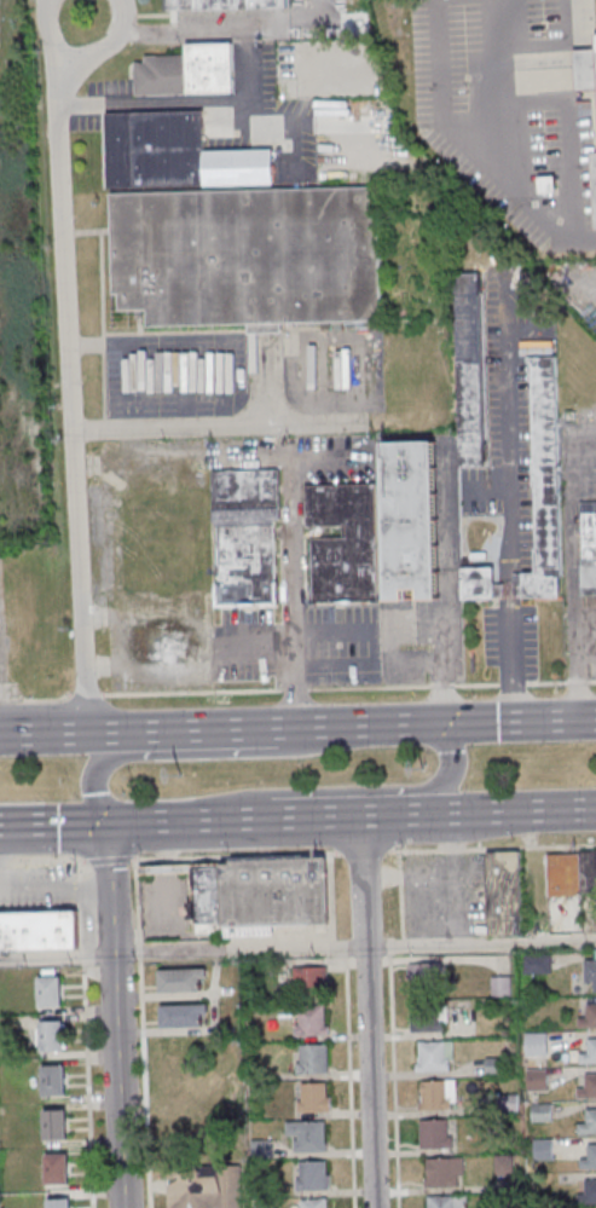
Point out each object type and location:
building: (225, 4)
road: (47, 30)
road: (180, 31)
road: (108, 45)
building: (585, 69)
building: (189, 71)
road: (152, 105)
road: (442, 139)
building: (175, 154)
building: (546, 184)
building: (594, 190)
road: (572, 238)
road: (65, 243)
building: (248, 255)
road: (100, 343)
building: (471, 369)
road: (359, 376)
road: (308, 378)
road: (225, 380)
road: (185, 381)
road: (265, 381)
road: (132, 385)
road: (216, 426)
road: (504, 428)
building: (546, 481)
building: (411, 519)
road: (573, 533)
building: (247, 537)
building: (342, 542)
road: (293, 545)
building: (588, 547)
road: (79, 579)
road: (449, 583)
building: (481, 583)
road: (508, 588)
road: (375, 647)
road: (574, 654)
road: (585, 654)
road: (509, 658)
road: (591, 680)
road: (575, 681)
road: (546, 682)
road: (476, 683)
road: (513, 683)
road: (441, 684)
road: (369, 687)
road: (295, 688)
road: (192, 692)
road: (88, 694)
road: (293, 695)
road: (48, 698)
road: (435, 724)
traffic signals: (438, 724)
road: (241, 729)
road: (103, 732)
road: (196, 753)
power tower: (422, 764)
power tower: (178, 773)
road: (335, 791)
road: (297, 816)
traffic signals: (106, 823)
road: (364, 850)
road: (109, 859)
road: (41, 860)
building: (571, 872)
road: (360, 880)
road: (110, 888)
building: (504, 892)
building: (253, 894)
road: (137, 901)
building: (39, 930)
road: (297, 947)
road: (139, 952)
building: (536, 964)
building: (591, 975)
building: (424, 976)
building: (181, 979)
building: (311, 979)
building: (50, 989)
building: (184, 1015)
building: (589, 1016)
building: (428, 1017)
building: (311, 1019)
building: (53, 1035)
building: (537, 1042)
building: (589, 1052)
building: (435, 1056)
building: (312, 1058)
building: (494, 1065)
road: (369, 1076)
building: (537, 1079)
building: (53, 1080)
road: (118, 1080)
road: (143, 1083)
building: (588, 1087)
building: (436, 1094)
building: (314, 1097)
building: (542, 1112)
building: (589, 1122)
building: (54, 1123)
building: (435, 1133)
building: (307, 1134)
building: (543, 1149)
building: (589, 1157)
building: (57, 1167)
building: (444, 1172)
building: (312, 1174)
building: (204, 1187)
building: (588, 1192)
building: (447, 1201)
building: (58, 1203)
building: (313, 1203)

